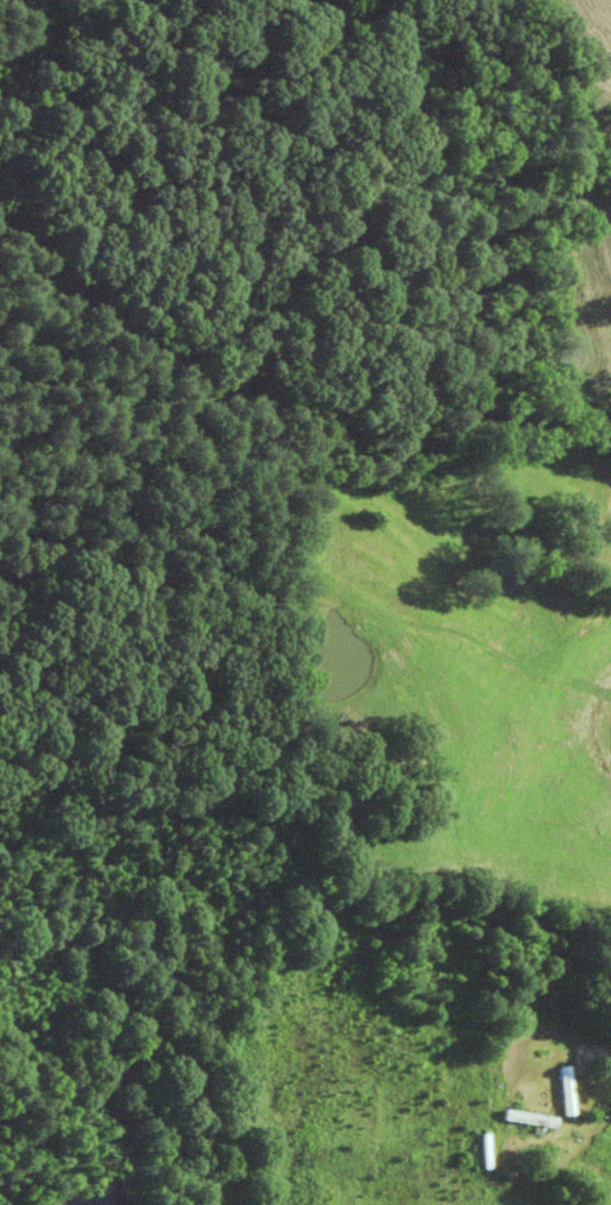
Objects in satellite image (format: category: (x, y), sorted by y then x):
building: (528, 1119)
building: (483, 1151)

